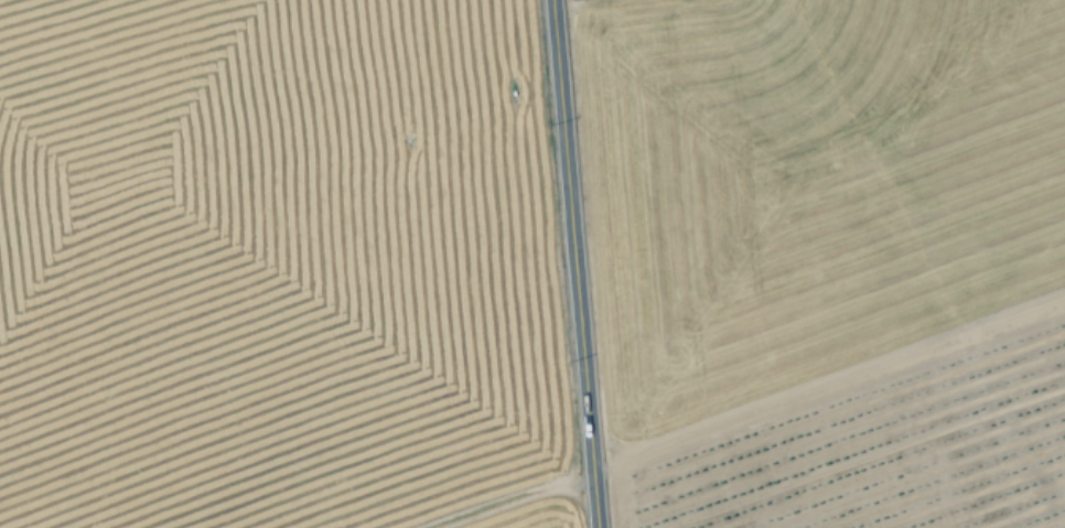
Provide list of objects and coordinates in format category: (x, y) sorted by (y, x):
crop: (809, 182)
road: (574, 263)
crop: (272, 267)

